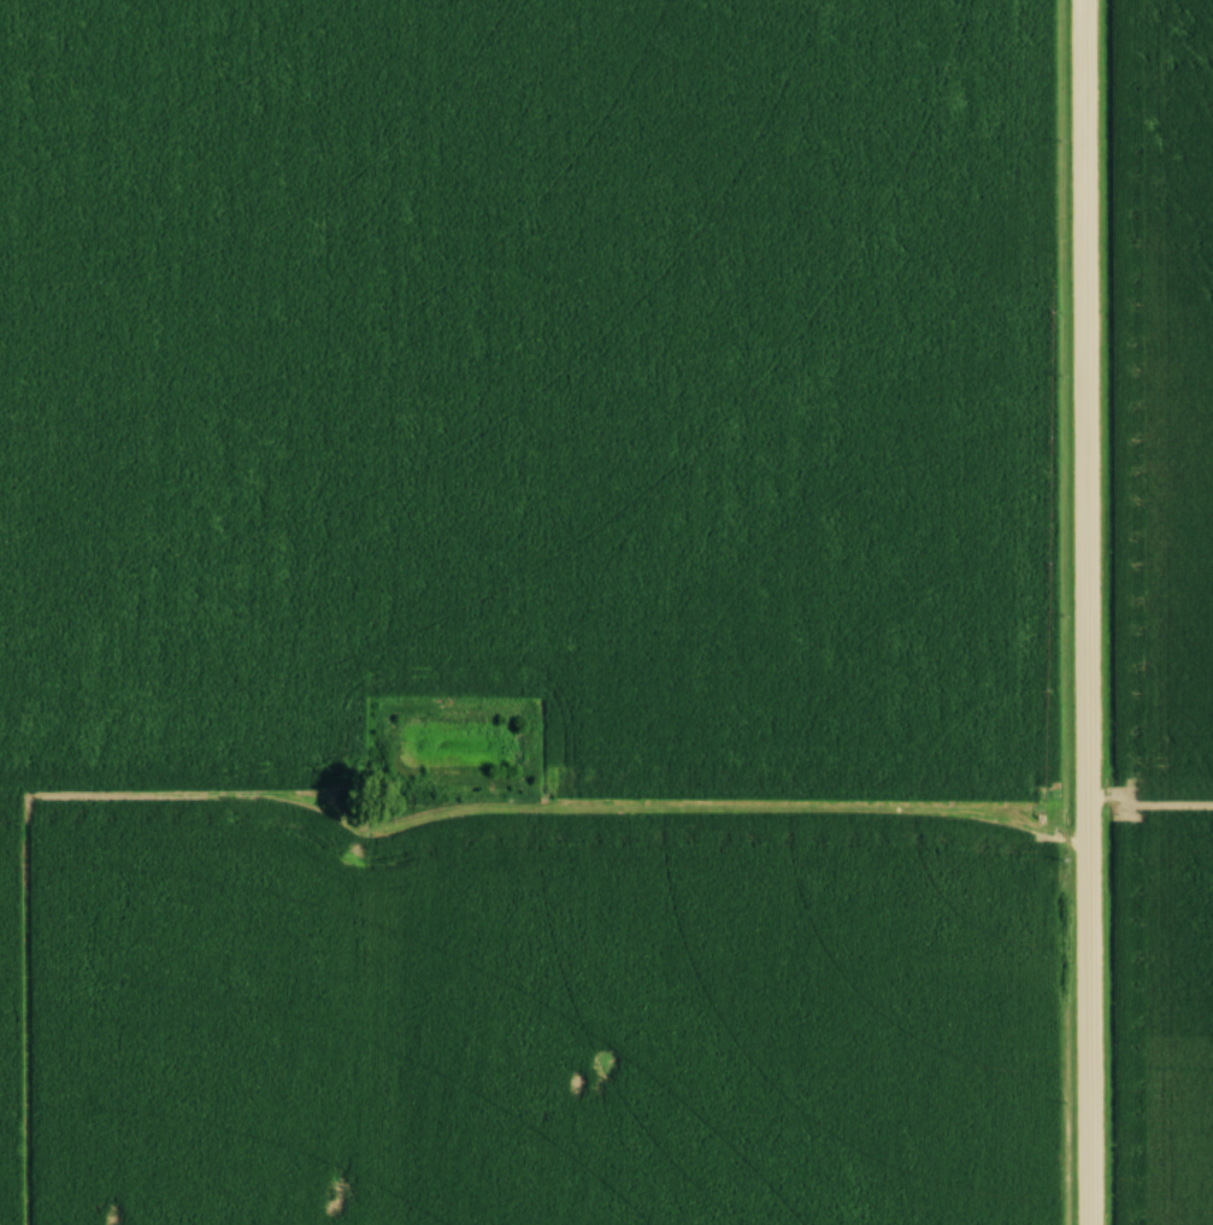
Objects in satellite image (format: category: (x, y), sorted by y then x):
road: (1077, 612)

